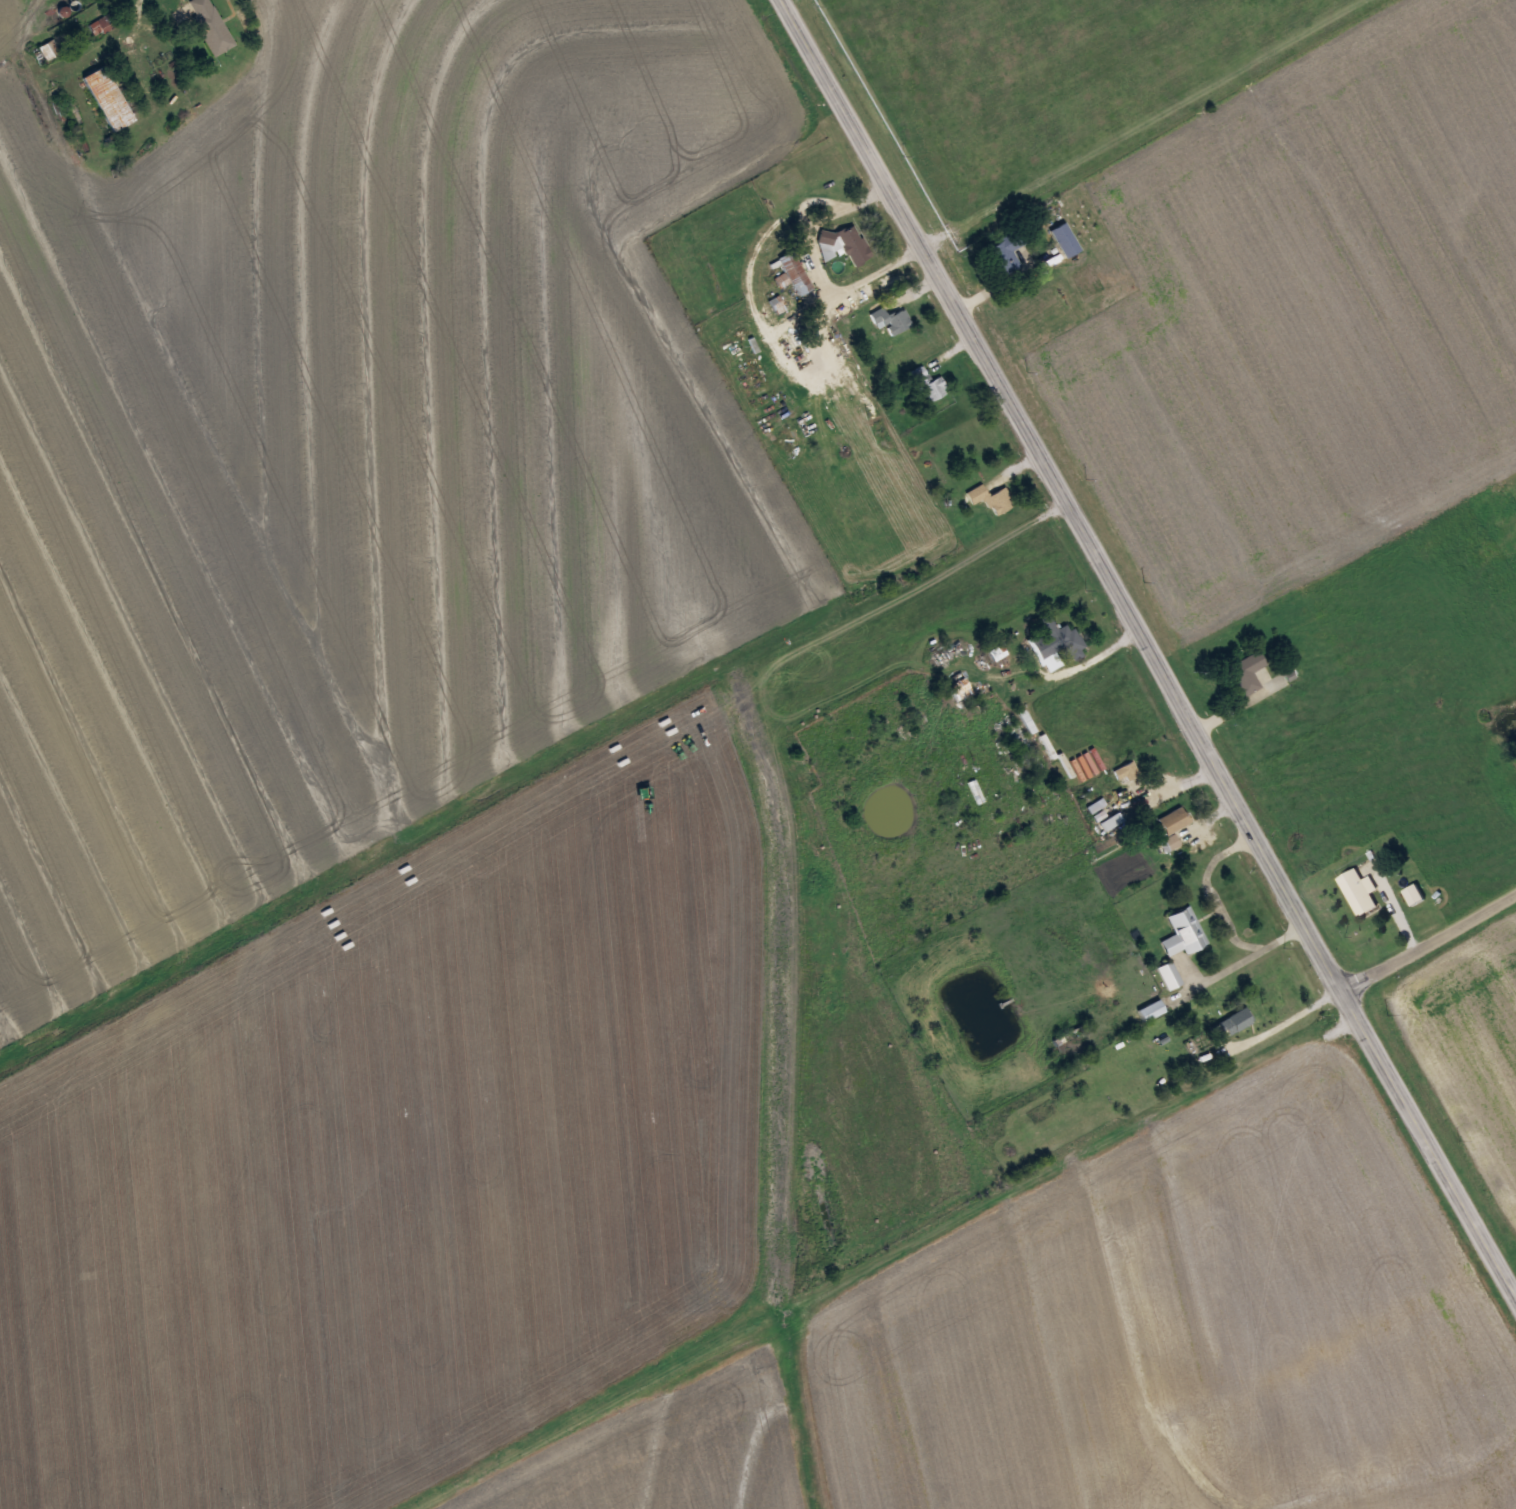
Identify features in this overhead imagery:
building: (104, 22)
crop: (16, 24)
building: (210, 25)
building: (107, 97)
building: (825, 236)
building: (1063, 238)
building: (853, 244)
building: (1006, 251)
building: (795, 271)
crop: (1294, 313)
building: (897, 320)
building: (793, 331)
building: (930, 383)
crop: (360, 457)
building: (990, 496)
building: (1056, 642)
road: (1147, 648)
building: (949, 652)
building: (1247, 672)
building: (961, 690)
building: (1126, 771)
building: (1172, 820)
building: (1359, 890)
building: (1414, 894)
building: (1182, 932)
road: (1429, 941)
building: (1169, 974)
building: (1150, 1010)
building: (1235, 1021)
crop: (1467, 1041)
crop: (412, 1153)
crop: (1186, 1329)

